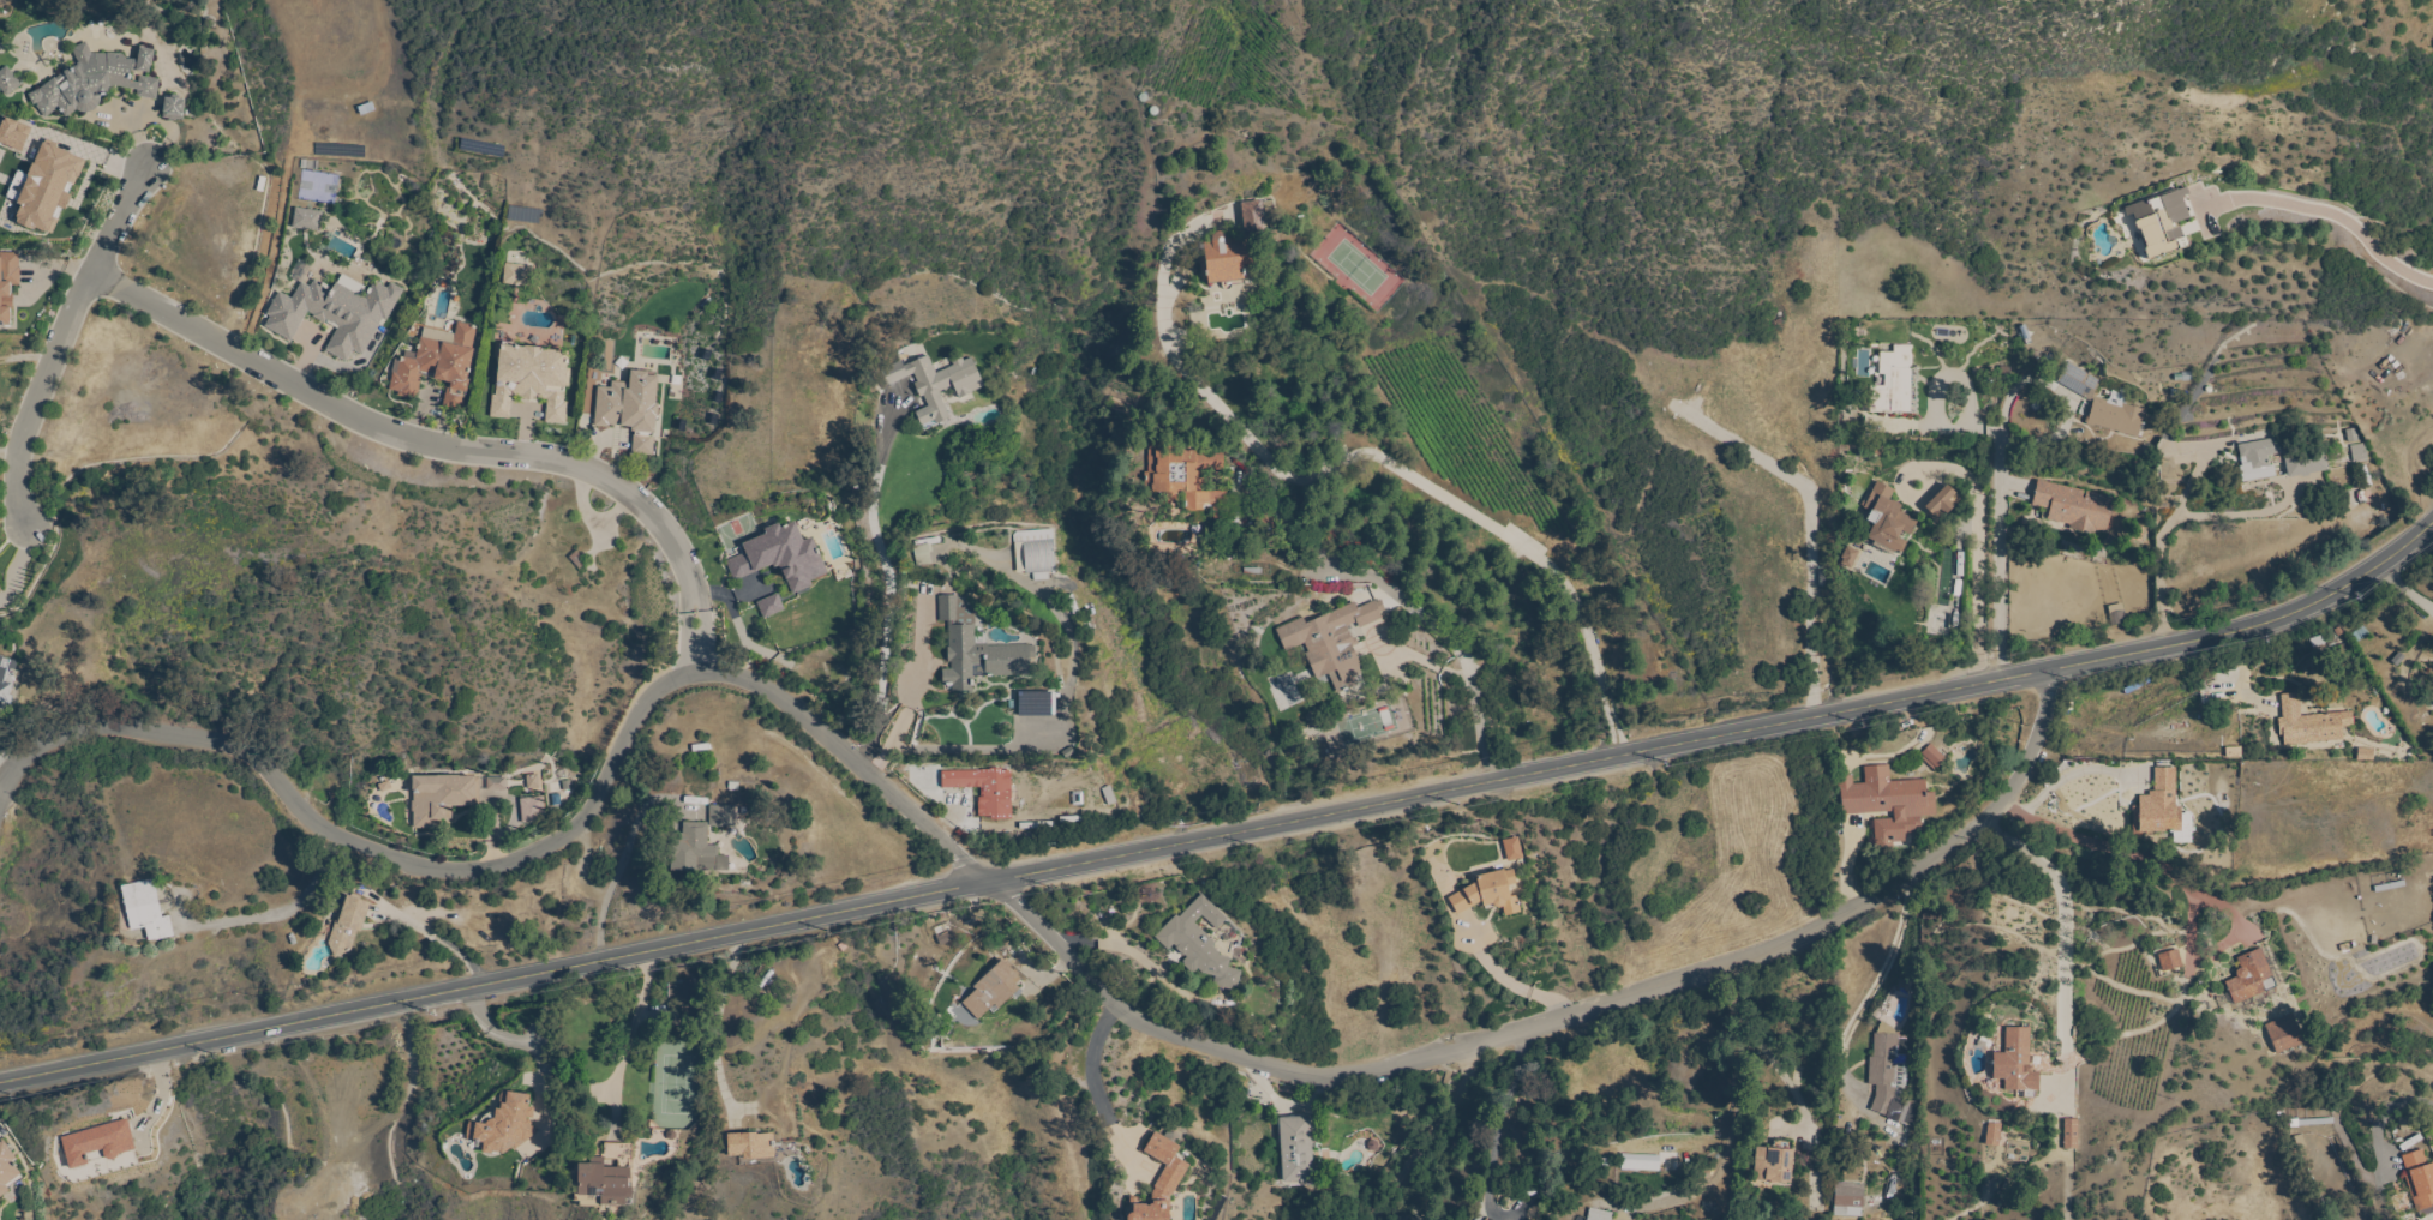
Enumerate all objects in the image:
building: (8, 80)
building: (94, 80)
building: (174, 108)
building: (12, 133)
building: (44, 187)
road: (2335, 215)
building: (1258, 216)
building: (307, 220)
building: (2162, 221)
building: (1227, 260)
building: (517, 275)
building: (6, 284)
building: (336, 313)
road: (64, 343)
building: (438, 365)
building: (532, 380)
building: (1895, 383)
building: (936, 384)
building: (853, 391)
building: (847, 396)
building: (2103, 403)
building: (631, 408)
road: (427, 445)
building: (2359, 452)
road: (11, 453)
building: (2258, 458)
road: (1382, 461)
building: (2306, 462)
building: (1185, 477)
building: (1943, 503)
building: (2075, 506)
building: (1264, 518)
building: (1888, 519)
road: (1978, 521)
road: (2163, 537)
building: (924, 551)
building: (1035, 553)
building: (781, 557)
building: (1847, 557)
road: (2002, 560)
road: (887, 582)
building: (0, 589)
road: (2405, 591)
building: (771, 606)
building: (949, 608)
building: (2116, 614)
building: (2355, 631)
building: (1332, 642)
road: (1450, 644)
road: (697, 655)
building: (981, 659)
building: (6, 679)
building: (1038, 705)
road: (910, 708)
building: (2309, 723)
road: (1042, 731)
road: (1730, 739)
building: (1932, 756)
road: (2061, 779)
building: (985, 789)
building: (442, 798)
building: (1888, 803)
building: (2158, 806)
building: (723, 816)
building: (2183, 833)
building: (1510, 848)
road: (535, 849)
building: (696, 851)
road: (2141, 857)
road: (618, 861)
building: (1487, 894)
building: (146, 909)
road: (278, 912)
road: (2065, 919)
building: (347, 924)
road: (441, 940)
building: (1200, 943)
building: (2170, 961)
building: (2249, 978)
road: (1512, 982)
road: (499, 984)
building: (993, 990)
road: (1870, 994)
building: (684, 998)
road: (1564, 1022)
building: (2284, 1034)
road: (625, 1039)
road: (516, 1041)
building: (2016, 1063)
building: (1888, 1069)
road: (1090, 1075)
road: (1786, 1078)
building: (1898, 1111)
building: (503, 1120)
road: (2380, 1120)
building: (2315, 1122)
road: (1498, 1126)
building: (1992, 1134)
building: (2069, 1134)
building: (665, 1135)
road: (1436, 1140)
building: (2021, 1140)
building: (753, 1148)
building: (1296, 1149)
road: (1727, 1160)
building: (1638, 1162)
building: (1774, 1162)
building: (7, 1170)
building: (605, 1178)
building: (2419, 1179)
building: (1161, 1180)
building: (1848, 1197)
building: (1599, 1215)

